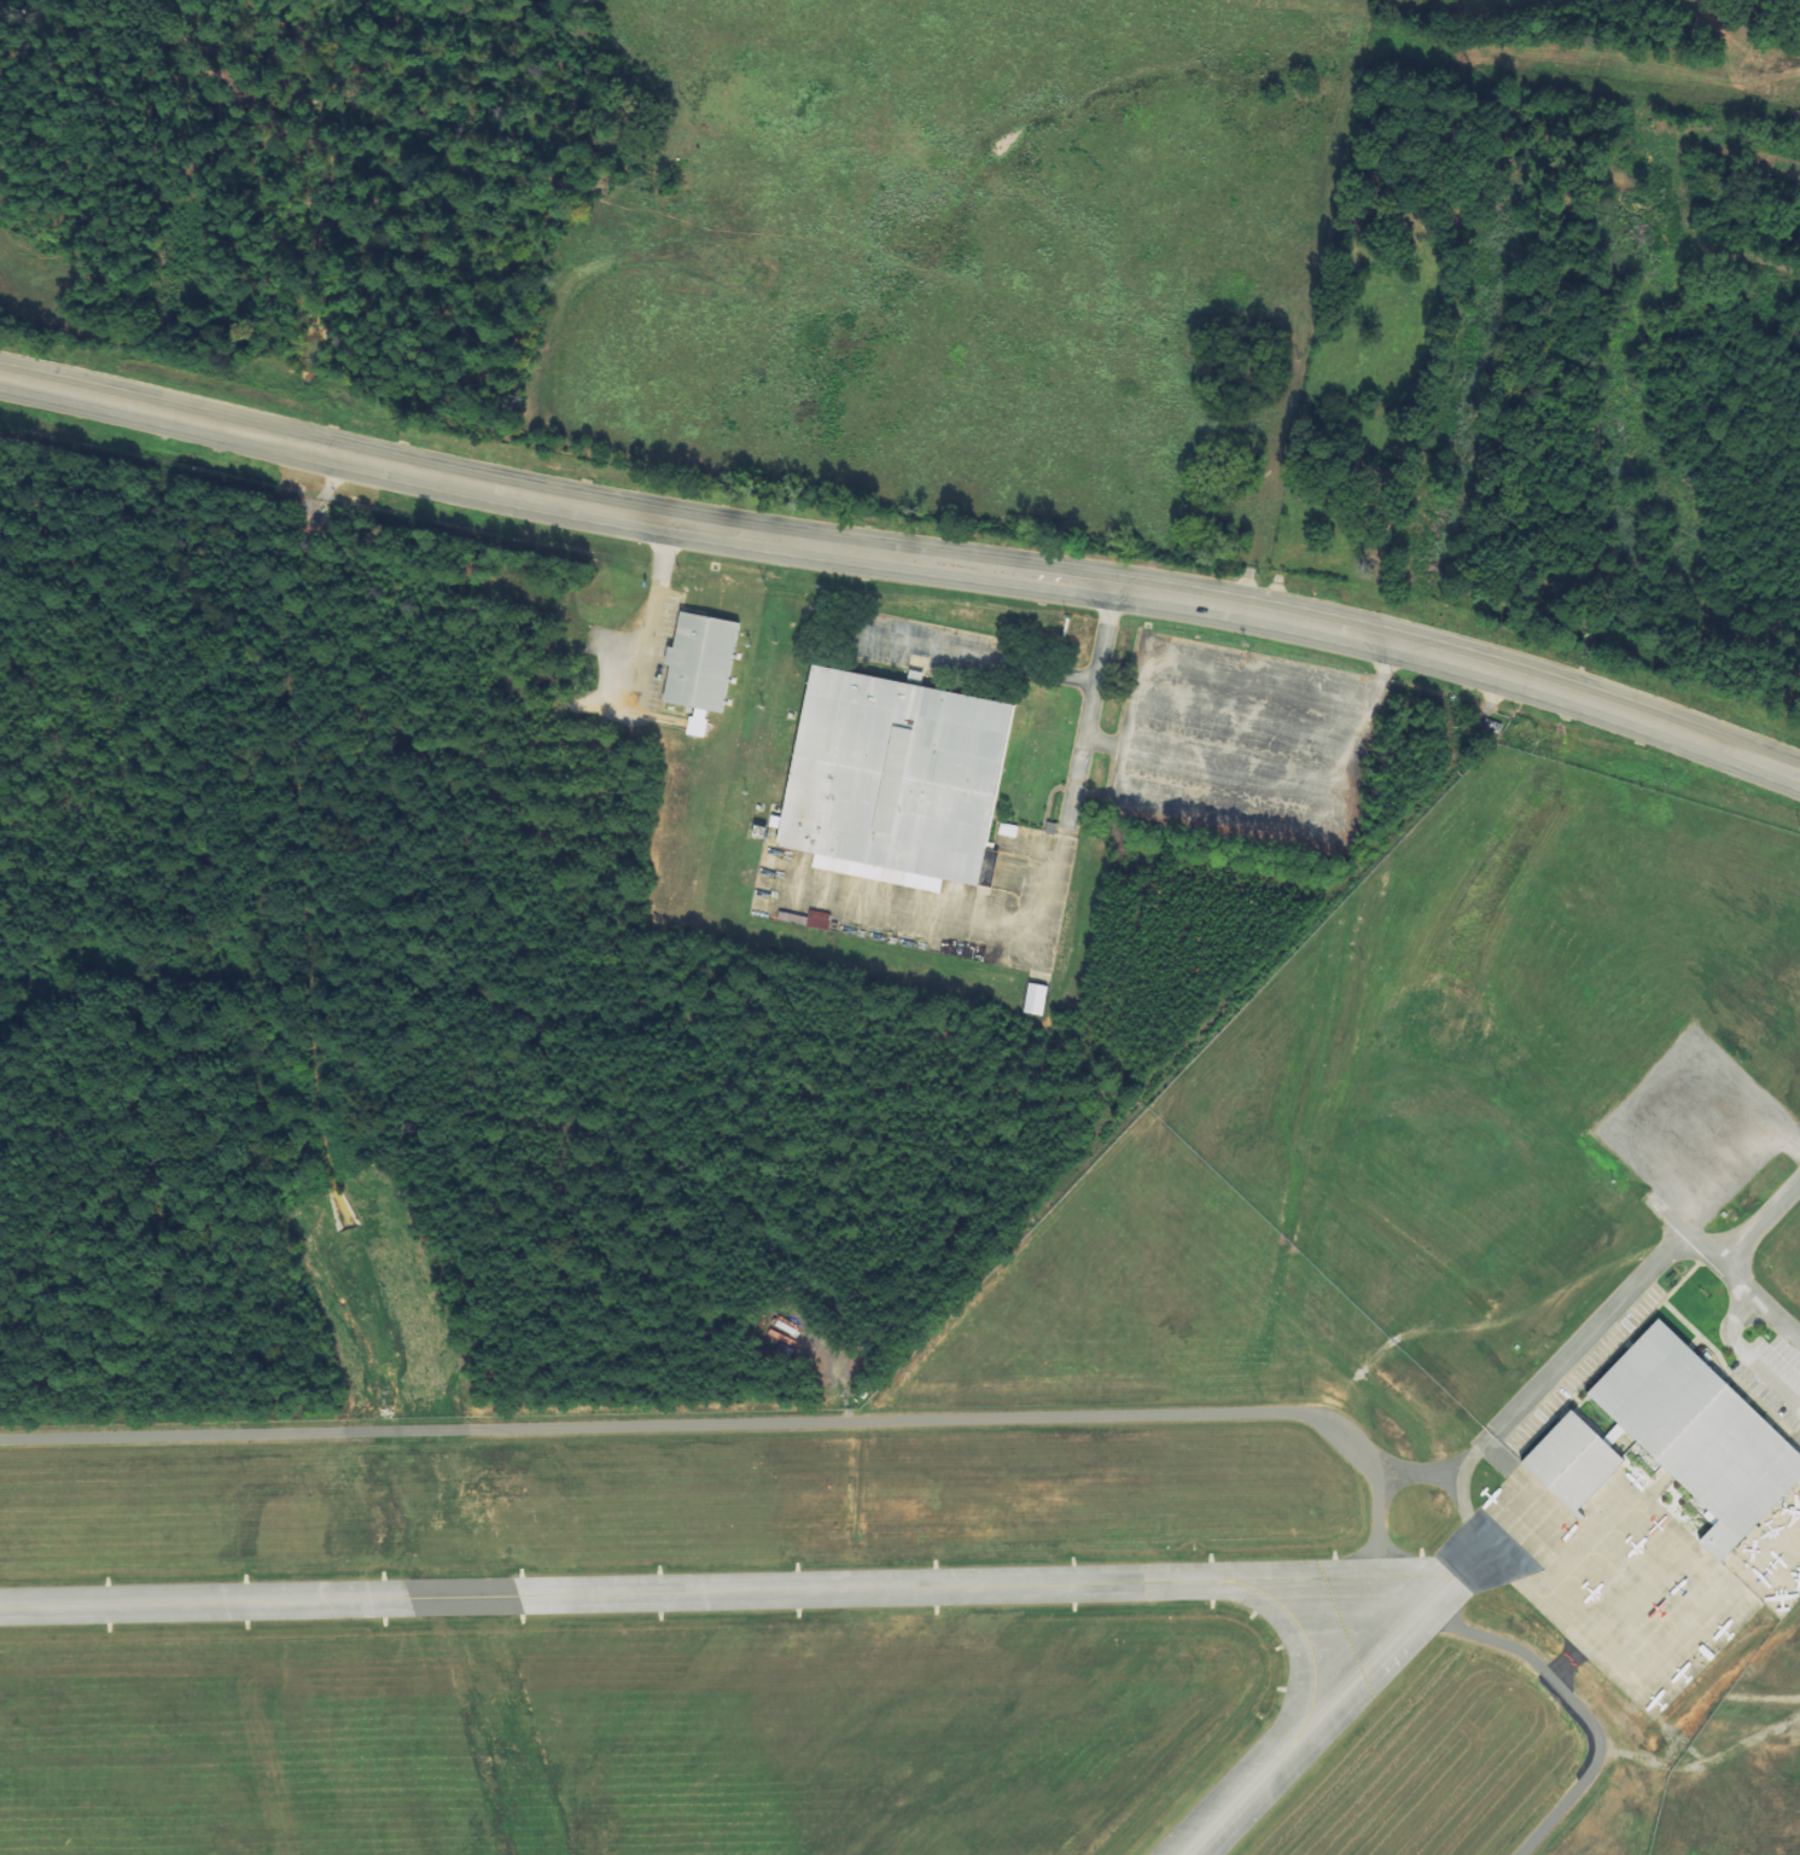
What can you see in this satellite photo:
road: (904, 558)
building: (700, 663)
building: (891, 775)
building: (806, 919)
building: (1036, 999)
parking lot: (1695, 1127)
road: (1697, 1132)
road: (1763, 1226)
airport: (829, 1278)
road: (1741, 1283)
road: (1607, 1315)
road: (1778, 1319)
road: (1747, 1354)
parking lot: (1575, 1360)
parking lot: (1771, 1377)
building: (1701, 1434)
airport hangar: (1572, 1461)
building: (1572, 1461)
road: (1463, 1472)
airport apron: (1625, 1577)
airport taxiway: (664, 1593)
road: (1766, 1699)
airport taxiway: (1275, 1757)
road: (1562, 1780)

